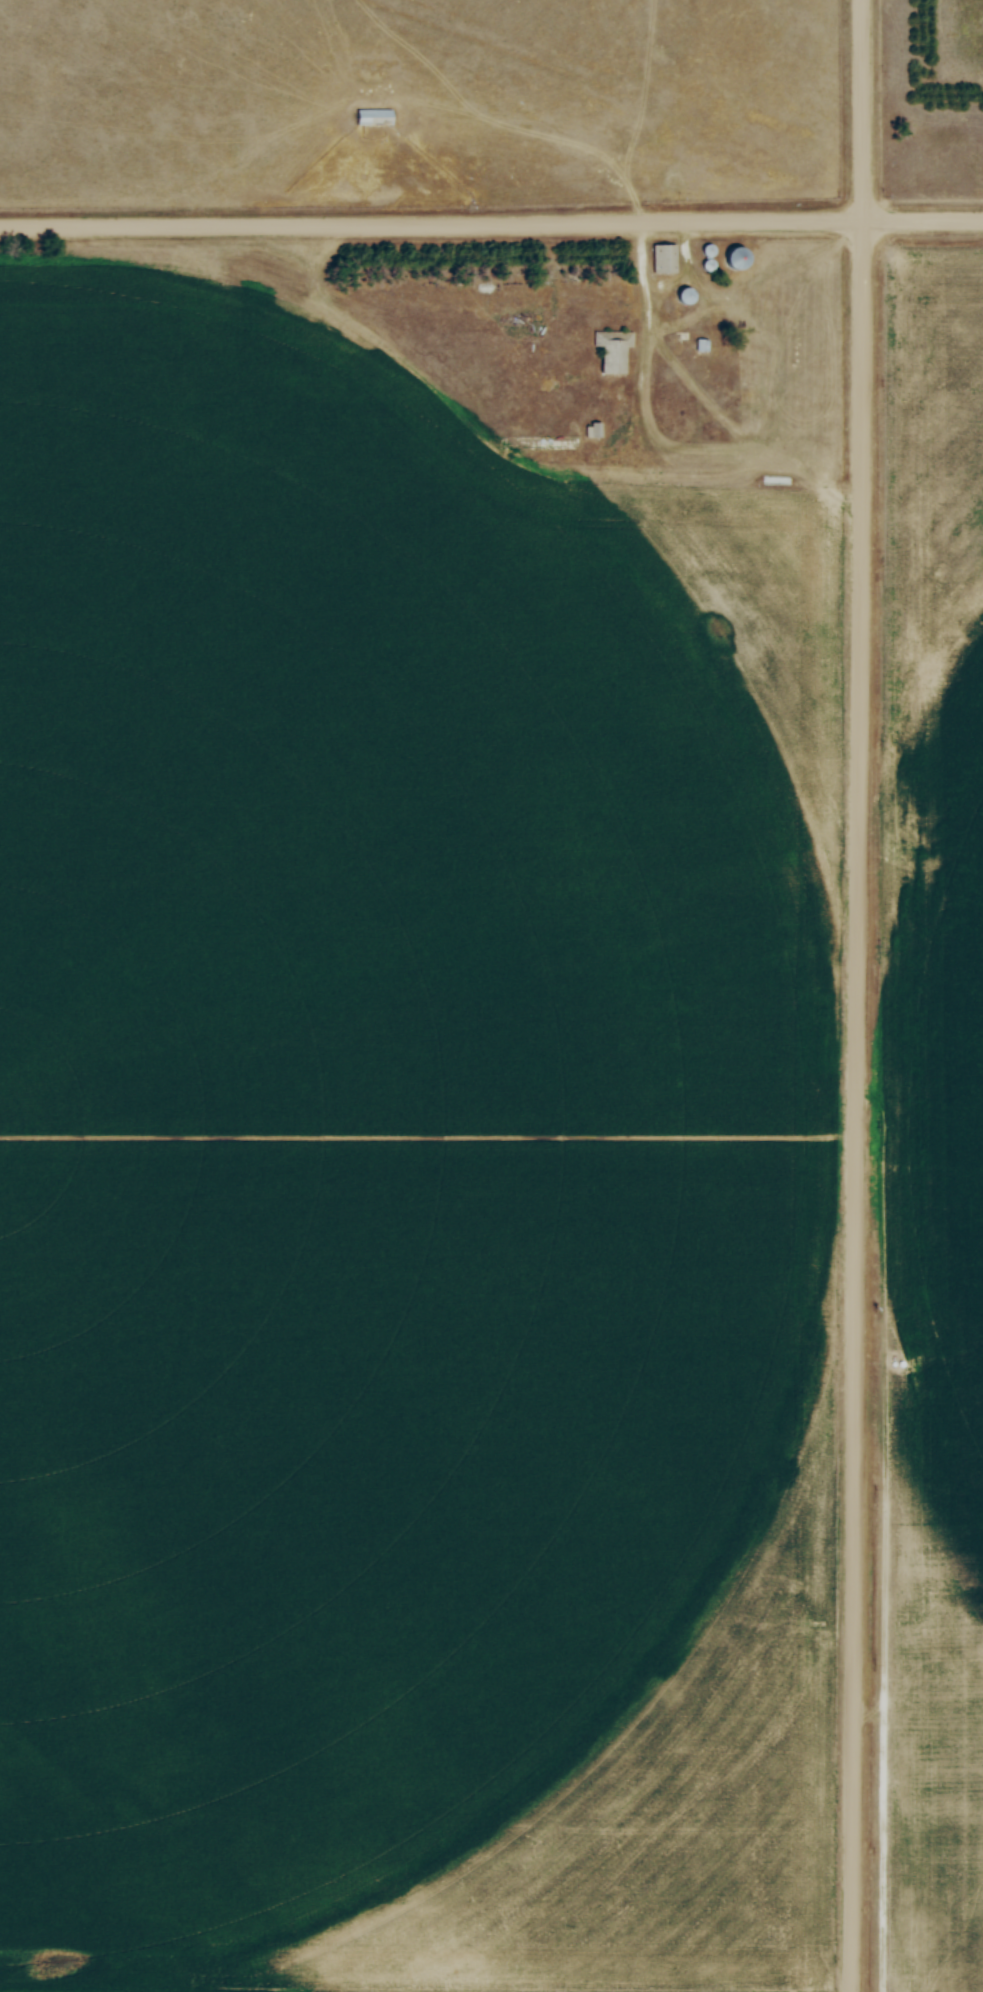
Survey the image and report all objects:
building: (373, 117)
road: (491, 225)
building: (663, 259)
building: (736, 259)
building: (684, 297)
road: (650, 298)
building: (612, 351)
building: (748, 395)
road: (858, 995)

